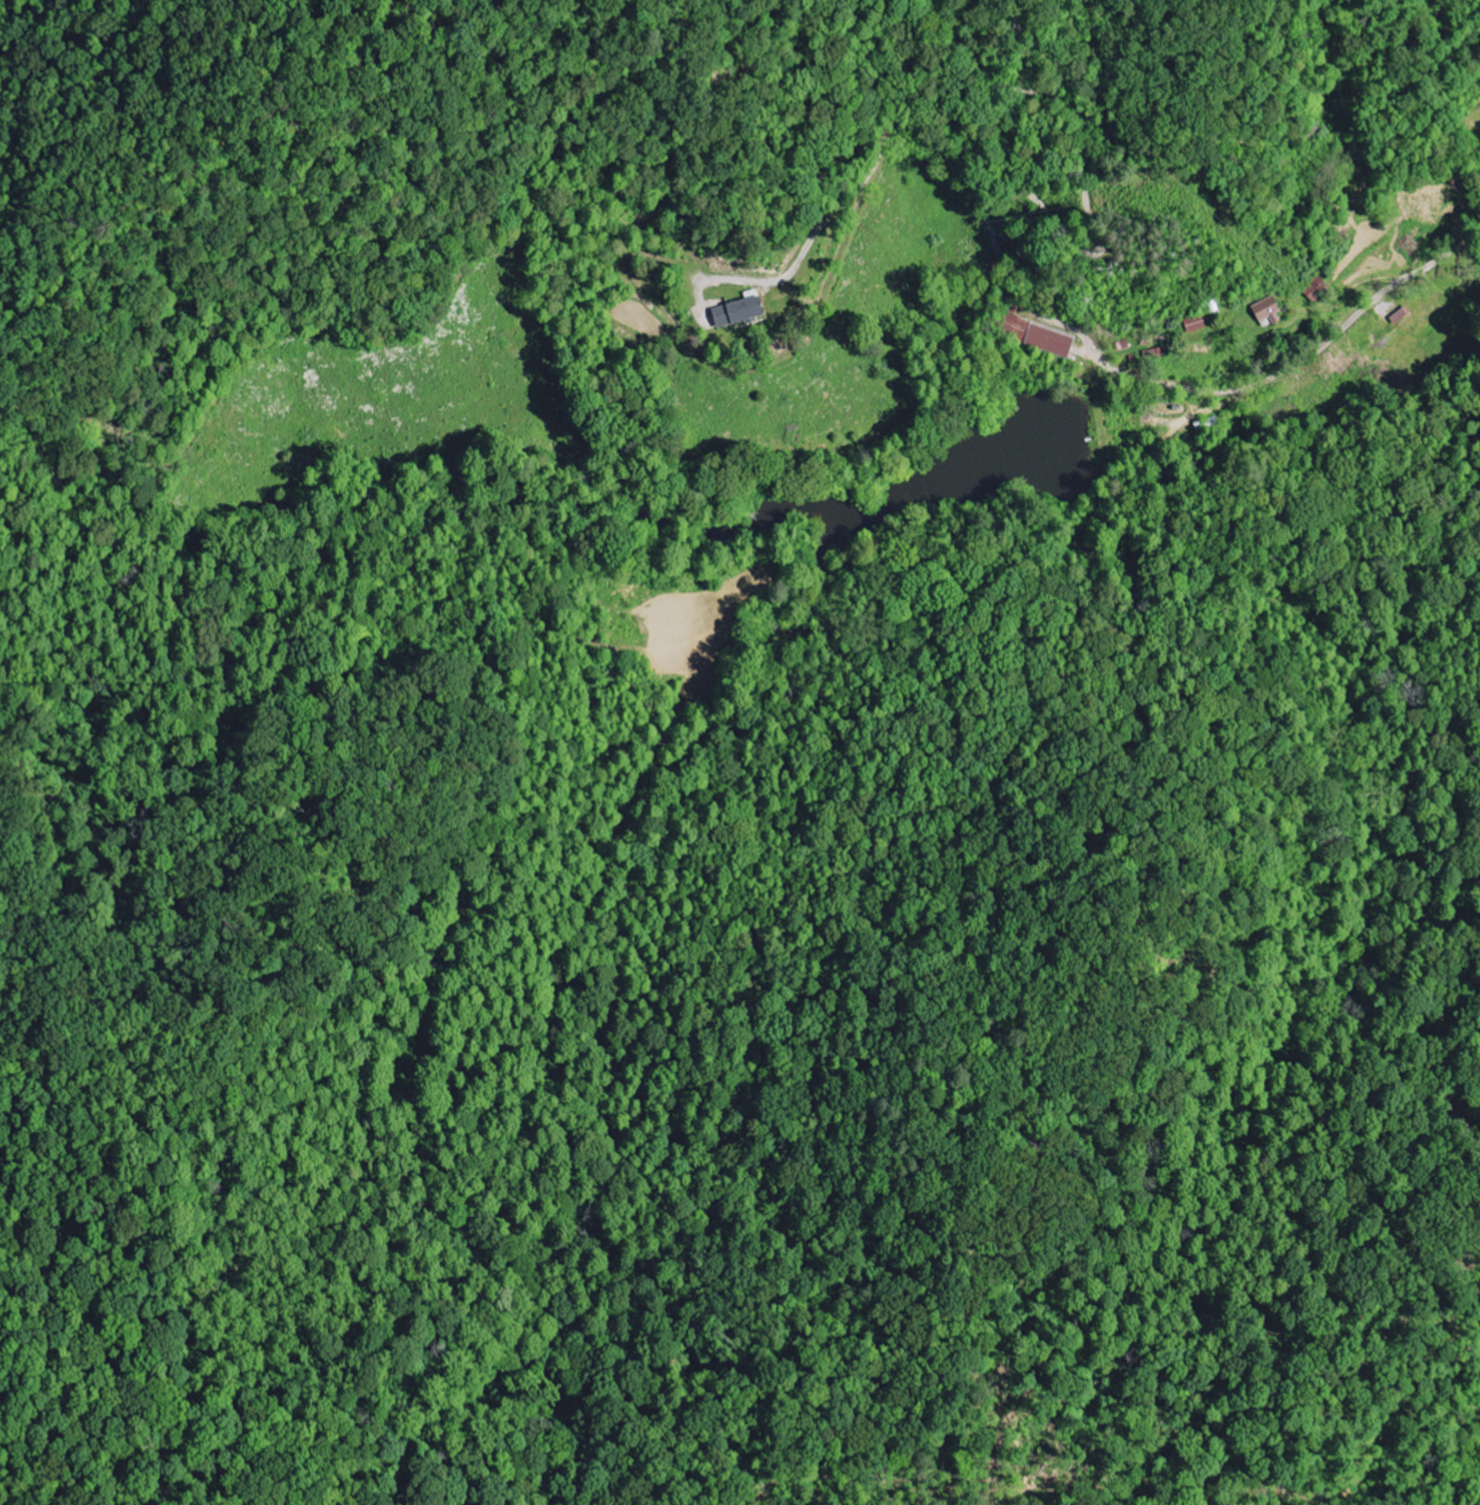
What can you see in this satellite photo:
road: (886, 62)
building: (1267, 312)
building: (738, 313)
building: (1195, 324)
road: (1074, 330)
building: (1037, 336)

